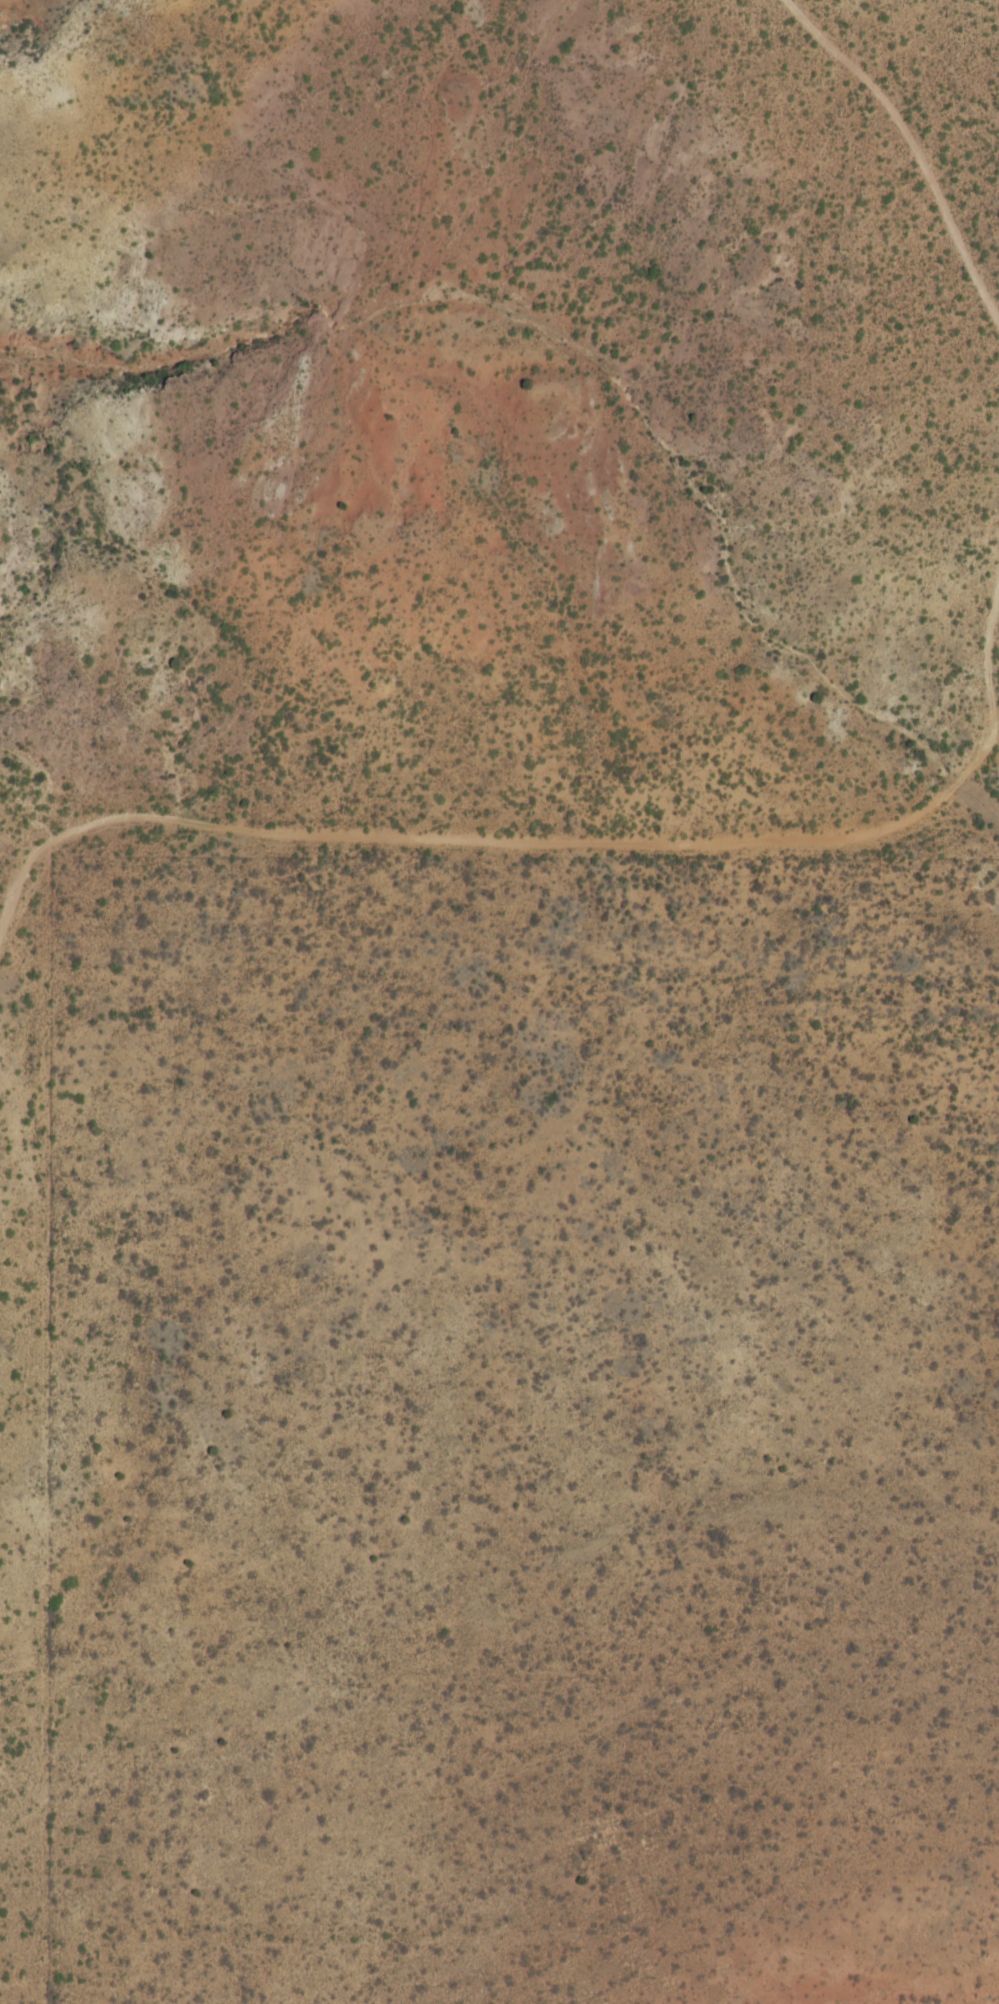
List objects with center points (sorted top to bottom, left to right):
road: (499, 842)

